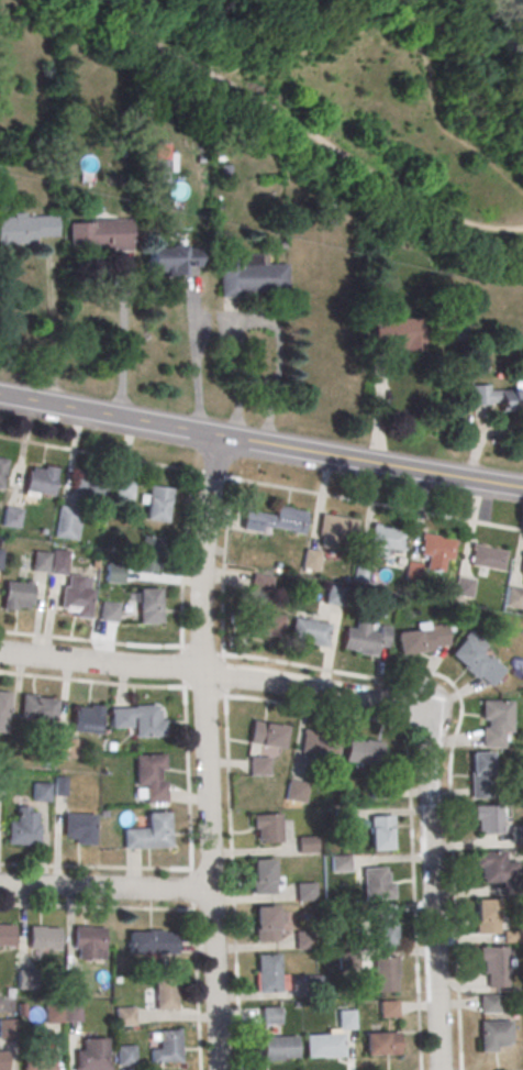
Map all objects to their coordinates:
road: (344, 9)
road: (344, 9)
road: (222, 23)
road: (401, 30)
road: (469, 67)
park: (365, 99)
road: (294, 126)
building: (159, 170)
building: (26, 230)
building: (102, 235)
building: (170, 262)
building: (251, 276)
road: (231, 313)
road: (255, 320)
road: (52, 322)
road: (123, 335)
building: (398, 337)
road: (194, 350)
building: (497, 399)
road: (379, 409)
road: (260, 443)
road: (478, 443)
building: (2, 472)
building: (40, 482)
road: (261, 484)
building: (90, 485)
building: (123, 489)
building: (157, 503)
building: (11, 519)
building: (275, 521)
building: (67, 525)
building: (336, 529)
building: (387, 540)
building: (436, 549)
building: (149, 553)
building: (0, 556)
building: (310, 559)
building: (489, 559)
building: (40, 563)
building: (521, 567)
building: (113, 573)
building: (464, 586)
building: (19, 594)
building: (334, 594)
building: (77, 595)
building: (513, 597)
building: (148, 605)
building: (109, 610)
building: (265, 626)
building: (310, 633)
building: (423, 638)
building: (360, 643)
building: (476, 661)
road: (183, 669)
road: (212, 674)
building: (36, 709)
building: (3, 712)
building: (86, 718)
building: (138, 718)
building: (493, 721)
building: (266, 733)
building: (318, 743)
building: (65, 747)
building: (363, 751)
road: (205, 752)
building: (258, 765)
building: (479, 773)
building: (151, 775)
road: (188, 780)
building: (1, 784)
building: (294, 791)
building: (41, 793)
building: (486, 818)
building: (79, 829)
building: (267, 829)
building: (380, 831)
building: (23, 835)
building: (149, 835)
building: (307, 842)
road: (231, 862)
building: (338, 862)
building: (492, 867)
building: (264, 879)
building: (377, 882)
road: (105, 886)
road: (431, 887)
building: (305, 890)
road: (192, 891)
building: (487, 915)
building: (382, 925)
building: (266, 926)
building: (2, 937)
building: (43, 939)
building: (88, 939)
building: (303, 939)
building: (152, 944)
building: (493, 964)
building: (386, 972)
building: (268, 975)
building: (26, 982)
building: (73, 983)
road: (197, 990)
building: (162, 993)
building: (488, 1003)
building: (53, 1015)
building: (270, 1015)
building: (124, 1018)
building: (7, 1030)
building: (493, 1037)
building: (166, 1047)
building: (381, 1047)
building: (324, 1048)
building: (279, 1049)
building: (92, 1055)
building: (125, 1057)
building: (38, 1060)
building: (4, 1061)

